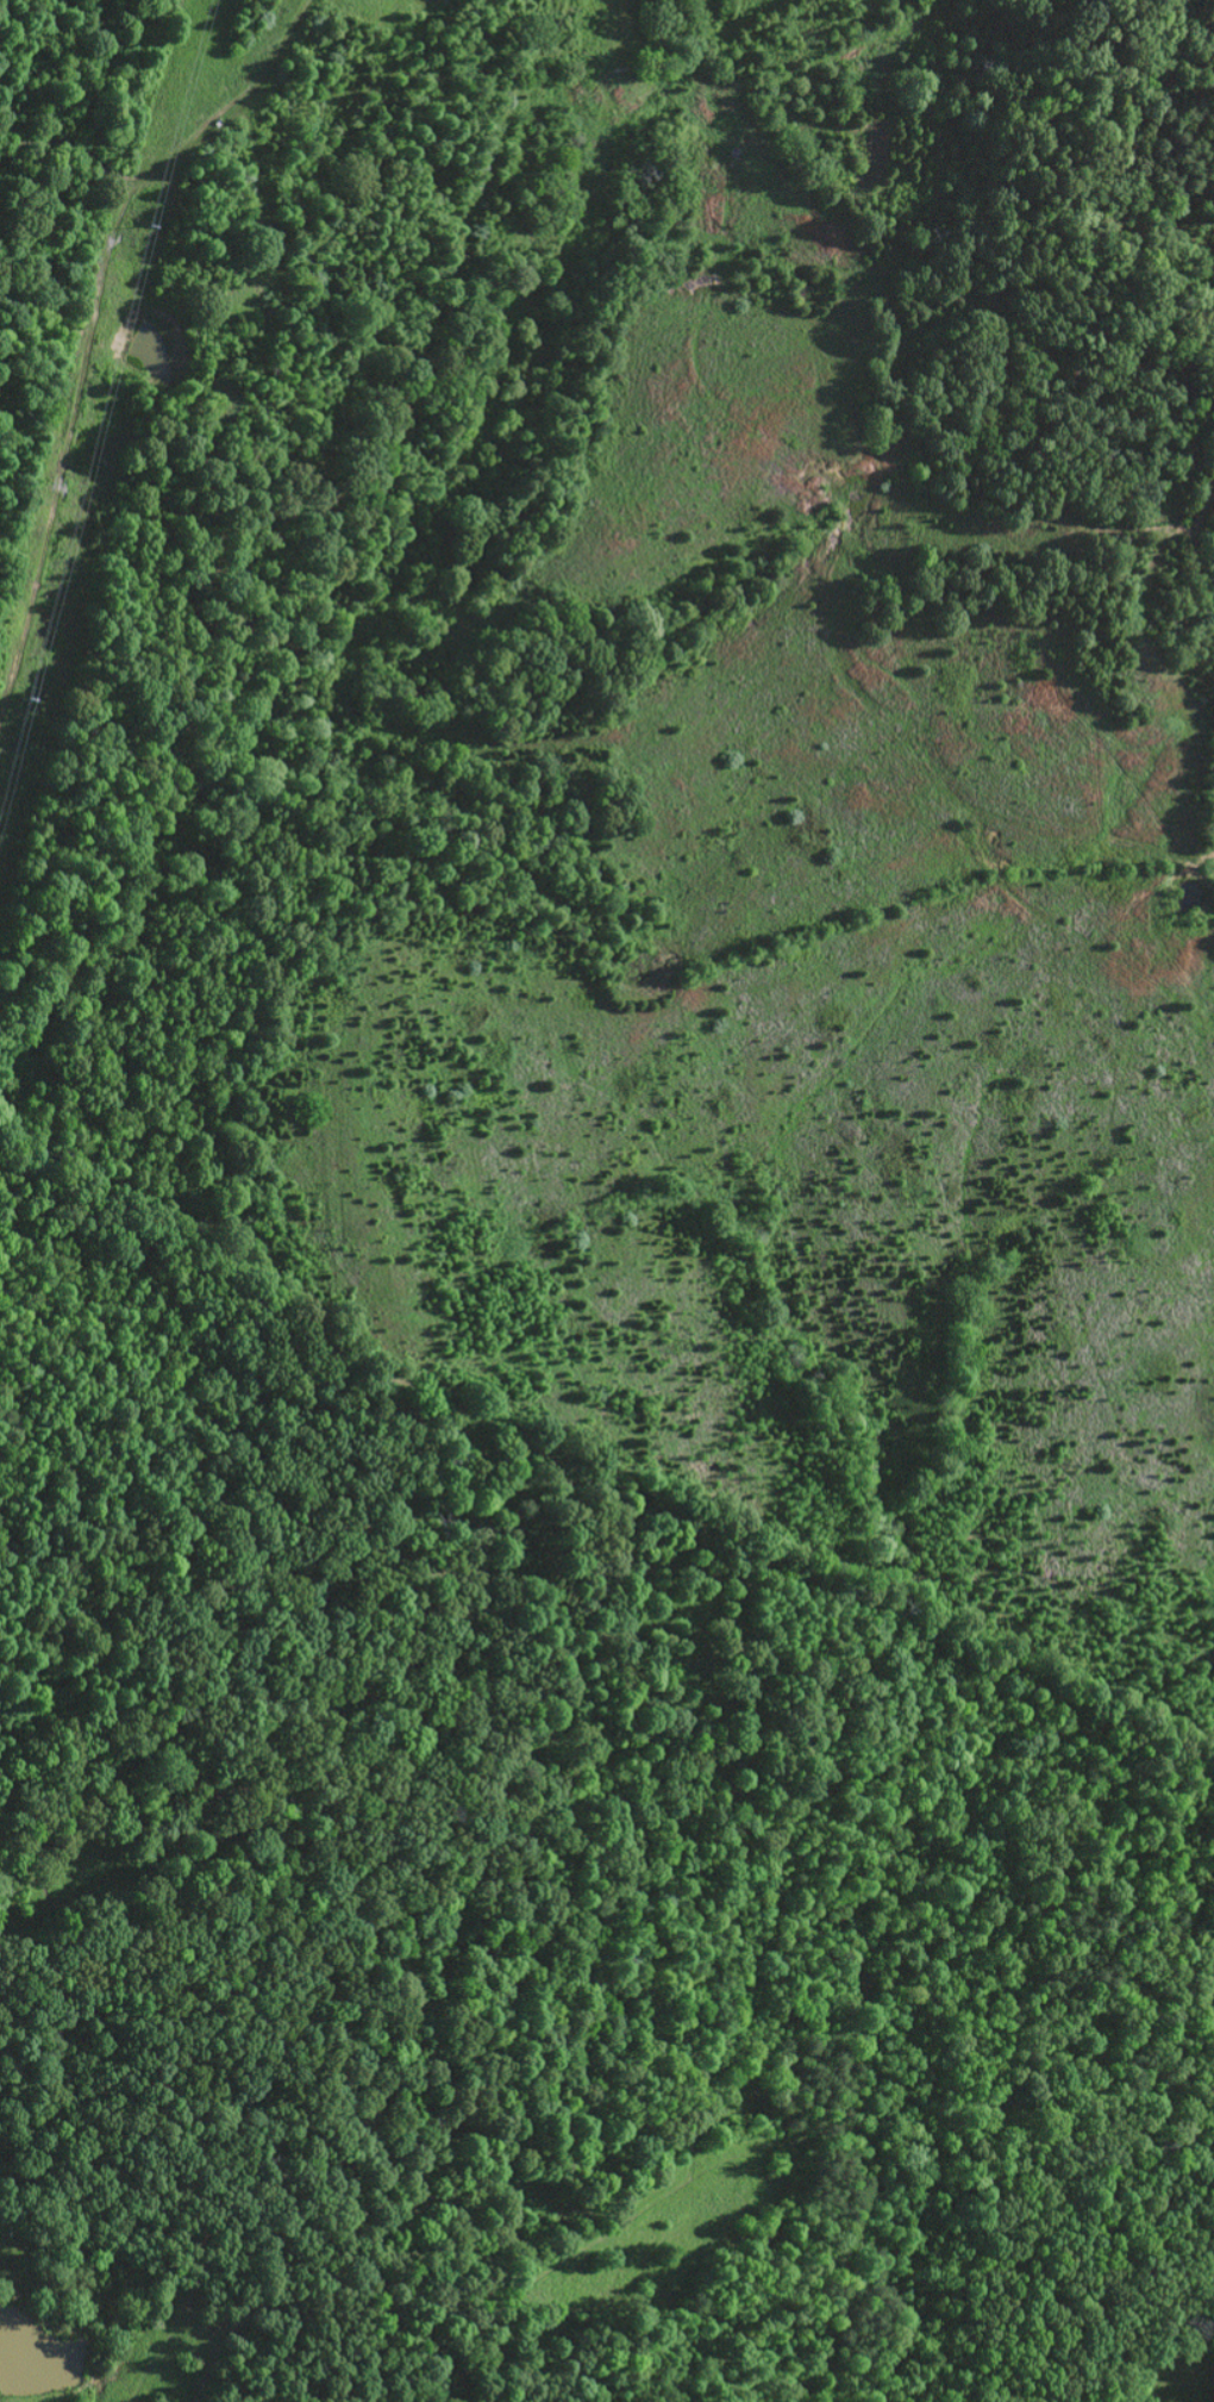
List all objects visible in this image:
road: (39, 1941)

